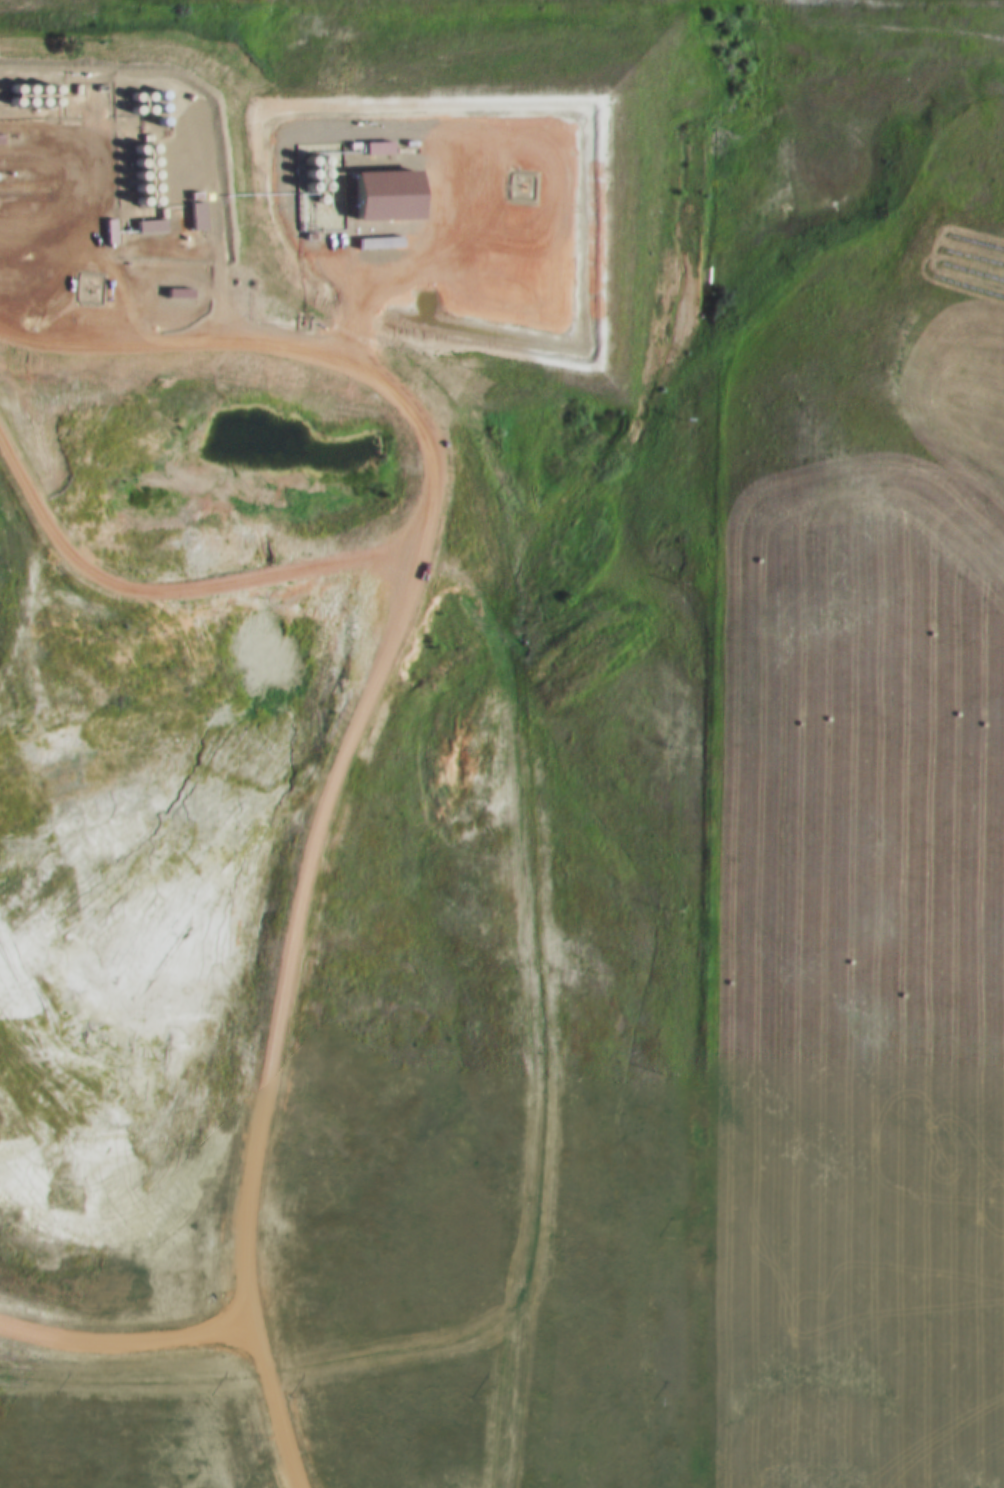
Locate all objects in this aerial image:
building: (201, 218)
building: (154, 227)
quarry: (963, 354)

